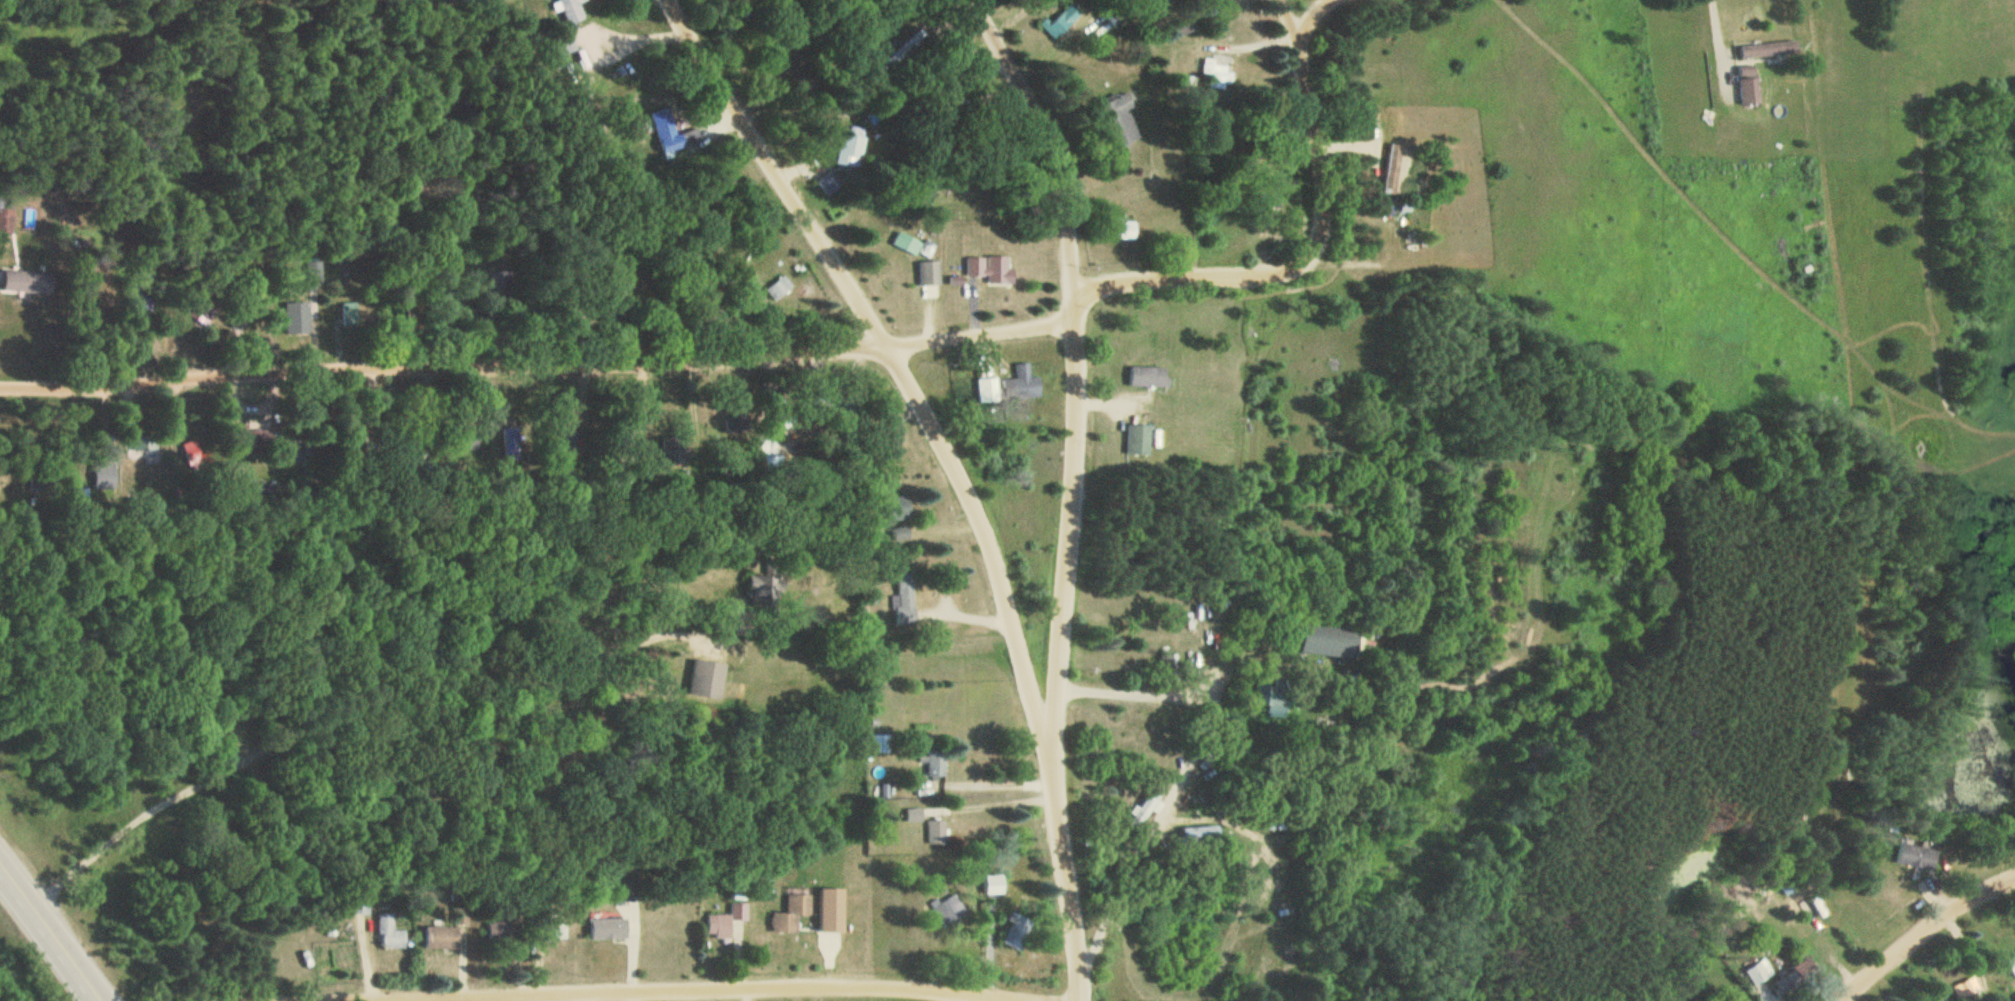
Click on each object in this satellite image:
building: (572, 10)
building: (1767, 48)
building: (1219, 71)
building: (1748, 85)
building: (1122, 118)
building: (851, 148)
building: (1392, 169)
building: (829, 182)
building: (6, 220)
building: (1125, 229)
building: (906, 242)
road: (1320, 250)
building: (989, 267)
building: (928, 273)
building: (27, 280)
building: (779, 288)
road: (1076, 302)
building: (349, 313)
building: (297, 317)
road: (538, 362)
building: (1018, 383)
building: (988, 390)
building: (1139, 439)
building: (193, 454)
road: (959, 468)
building: (900, 508)
building: (901, 532)
building: (761, 588)
building: (904, 601)
building: (1167, 666)
building: (707, 679)
building: (1279, 707)
road: (1059, 712)
building: (880, 743)
road: (283, 746)
building: (937, 763)
building: (1144, 809)
building: (936, 831)
building: (1203, 834)
building: (1917, 855)
building: (995, 883)
building: (947, 908)
building: (833, 910)
building: (789, 916)
building: (725, 921)
building: (608, 928)
road: (52, 929)
building: (495, 929)
building: (1018, 931)
building: (389, 932)
road: (1925, 936)
building: (442, 937)
building: (2012, 964)
building: (1803, 970)
building: (1757, 973)
road: (662, 988)
building: (1944, 1000)

